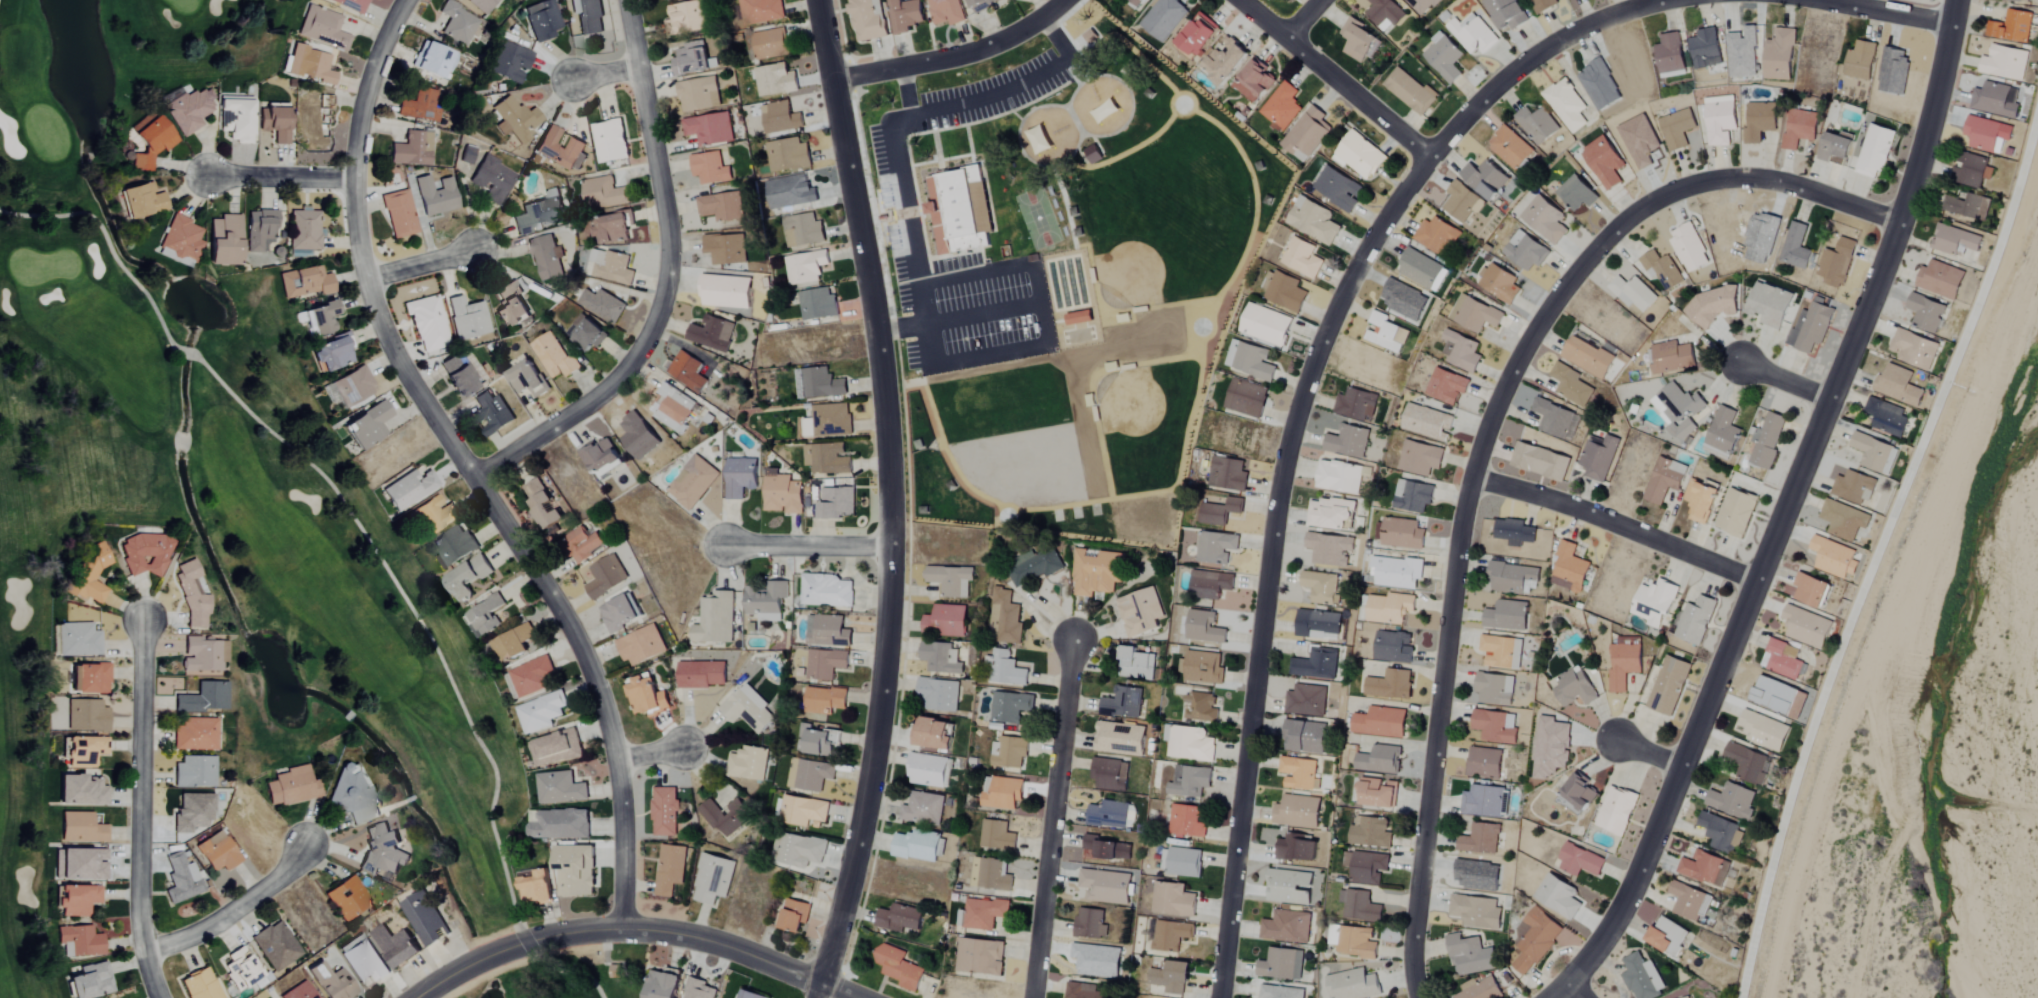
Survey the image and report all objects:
building: (2018, 0)
building: (1138, 2)
building: (981, 4)
building: (1421, 5)
building: (1544, 5)
building: (481, 6)
road: (1888, 10)
building: (761, 11)
building: (946, 11)
building: (1384, 14)
building: (1506, 14)
building: (906, 15)
building: (587, 16)
building: (686, 17)
building: (1163, 18)
road: (1260, 19)
road: (1303, 19)
building: (542, 20)
building: (867, 20)
building: (457, 22)
building: (322, 28)
building: (1472, 34)
building: (1195, 35)
building: (1089, 36)
building: (1358, 40)
building: (769, 44)
building: (1705, 49)
building: (1743, 52)
building: (1669, 54)
road: (954, 56)
building: (1779, 56)
building: (1443, 57)
building: (431, 59)
building: (689, 59)
building: (1225, 60)
building: (1861, 60)
building: (510, 62)
building: (2004, 62)
building: (309, 65)
building: (1894, 71)
road: (603, 76)
building: (775, 80)
building: (1255, 82)
building: (1410, 91)
building: (698, 94)
road: (1357, 96)
building: (1995, 100)
building: (417, 103)
building: (1566, 105)
building: (1281, 106)
building: (189, 110)
building: (1106, 114)
building: (238, 118)
building: (780, 118)
building: (514, 119)
building: (1720, 119)
building: (317, 120)
building: (1759, 122)
building: (275, 123)
building: (1536, 125)
park: (1179, 127)
road: (891, 128)
building: (709, 129)
building: (1677, 129)
building: (1800, 129)
building: (1986, 133)
building: (1307, 134)
building: (1042, 139)
building: (608, 141)
building: (1640, 141)
building: (152, 143)
building: (1510, 148)
building: (412, 149)
building: (560, 150)
building: (1876, 151)
building: (1092, 153)
building: (467, 155)
building: (787, 155)
building: (1360, 155)
building: (1604, 162)
building: (709, 168)
building: (1973, 171)
building: (1485, 178)
road: (279, 179)
building: (492, 179)
building: (1336, 188)
building: (601, 194)
building: (1578, 194)
building: (436, 196)
building: (142, 201)
building: (1462, 202)
building: (721, 206)
building: (1967, 207)
building: (960, 209)
building: (399, 214)
building: (539, 214)
road: (892, 215)
park: (1037, 218)
building: (1545, 219)
building: (1313, 220)
building: (611, 226)
building: (260, 230)
building: (803, 230)
building: (305, 231)
building: (1435, 234)
building: (181, 238)
building: (224, 240)
building: (1955, 241)
building: (1689, 247)
building: (1795, 247)
building: (725, 248)
building: (1526, 251)
building: (546, 258)
building: (1301, 258)
building: (1837, 264)
road: (419, 267)
building: (805, 267)
building: (611, 269)
building: (1421, 270)
building: (1662, 270)
park: (1058, 275)
building: (1941, 280)
road: (666, 281)
building: (305, 282)
building: (1501, 283)
road: (1039, 284)
building: (725, 291)
building: (1285, 292)
building: (1632, 293)
building: (600, 304)
building: (818, 304)
building: (510, 305)
building: (1770, 305)
building: (1926, 313)
building: (1475, 314)
building: (1078, 317)
building: (323, 318)
building: (467, 318)
building: (427, 323)
building: (1264, 325)
building: (1810, 327)
building: (584, 333)
building: (1386, 333)
building: (711, 334)
building: (1914, 349)
building: (1462, 351)
building: (331, 354)
road: (992, 354)
building: (553, 357)
building: (1588, 357)
building: (1671, 357)
building: (1252, 361)
building: (687, 372)
building: (457, 376)
building: (525, 377)
road: (1788, 383)
building: (822, 384)
building: (1570, 385)
building: (1447, 386)
building: (1898, 386)
building: (353, 387)
building: (1246, 398)
building: (1355, 405)
building: (672, 408)
building: (1677, 409)
building: (492, 411)
building: (1887, 417)
road: (1293, 420)
building: (1556, 420)
building: (828, 421)
building: (1428, 422)
building: (368, 426)
building: (1722, 434)
building: (1530, 436)
building: (1767, 440)
building: (1347, 442)
road: (1482, 444)
building: (1875, 453)
building: (600, 456)
building: (1420, 458)
building: (1598, 458)
building: (827, 459)
building: (1540, 461)
road: (466, 466)
building: (1227, 474)
building: (739, 477)
building: (1339, 477)
building: (1665, 480)
park: (956, 481)
building: (692, 482)
park: (216, 485)
building: (1854, 488)
building: (407, 489)
building: (782, 495)
building: (1413, 496)
road: (890, 500)
building: (1701, 501)
park: (1134, 502)
building: (836, 503)
road: (1790, 503)
building: (542, 505)
building: (1218, 510)
building: (1329, 513)
building: (1737, 513)
building: (434, 514)
building: (1843, 520)
road: (1615, 524)
building: (1514, 532)
building: (1403, 534)
building: (455, 545)
road: (810, 545)
building: (583, 547)
building: (1216, 547)
building: (1328, 549)
building: (144, 552)
building: (1834, 558)
road: (1882, 558)
building: (1042, 564)
building: (1570, 568)
building: (1097, 572)
building: (1397, 572)
building: (90, 575)
building: (605, 576)
building: (466, 577)
building: (1512, 578)
building: (950, 580)
building: (1210, 583)
building: (1319, 587)
building: (1810, 590)
building: (826, 591)
building: (191, 594)
building: (1654, 602)
building: (765, 603)
building: (1390, 608)
building: (1140, 612)
building: (619, 613)
building: (1506, 616)
building: (485, 617)
building: (1004, 619)
building: (945, 620)
building: (714, 621)
building: (1695, 621)
building: (1317, 625)
building: (1807, 627)
building: (1204, 628)
building: (831, 631)
building: (78, 640)
building: (514, 643)
building: (640, 646)
building: (1394, 647)
building: (1501, 652)
building: (204, 654)
building: (941, 659)
building: (1784, 660)
building: (825, 663)
building: (1315, 664)
building: (1137, 665)
building: (1624, 665)
building: (1201, 667)
building: (1006, 670)
building: (700, 675)
building: (531, 676)
building: (91, 679)
building: (1390, 685)
building: (1668, 686)
building: (1494, 689)
building: (1575, 689)
building: (939, 695)
building: (645, 697)
building: (203, 698)
building: (823, 701)
building: (1306, 701)
building: (1122, 703)
building: (1009, 707)
building: (1200, 707)
building: (747, 709)
building: (540, 712)
building: (87, 716)
building: (1381, 723)
building: (1495, 727)
building: (1764, 731)
building: (196, 734)
building: (933, 735)
building: (1304, 737)
building: (1120, 739)
building: (820, 743)
building: (1188, 743)
building: (1551, 747)
building: (555, 749)
building: (84, 751)
building: (1008, 752)
road: (654, 753)
road: (1650, 755)
building: (1379, 761)
building: (1484, 762)
building: (1745, 762)
building: (748, 763)
building: (927, 771)
building: (194, 772)
building: (1299, 774)
building: (809, 775)
building: (1110, 775)
building: (1188, 781)
building: (291, 788)
building: (559, 788)
building: (81, 791)
building: (1378, 793)
building: (1580, 793)
building: (1002, 794)
building: (352, 796)
building: (1733, 801)
building: (1482, 802)
building: (923, 809)
road: (137, 810)
building: (803, 811)
building: (1616, 811)
building: (192, 812)
building: (664, 812)
building: (1297, 812)
building: (1111, 816)
building: (725, 817)
road: (1053, 818)
building: (559, 825)
building: (81, 828)
building: (1370, 833)
building: (996, 836)
building: (1480, 839)
building: (916, 846)
building: (1296, 849)
building: (1105, 850)
building: (382, 851)
building: (218, 852)
building: (802, 852)
building: (1580, 861)
building: (1179, 862)
building: (79, 865)
building: (578, 867)
building: (1366, 867)
building: (1705, 868)
building: (669, 870)
building: (990, 875)
building: (182, 879)
building: (712, 879)
building: (566, 884)
building: (1105, 886)
building: (1288, 887)
building: (535, 888)
building: (1558, 897)
building: (347, 899)
building: (76, 900)
building: (1173, 900)
building: (1690, 902)
building: (1360, 906)
road: (230, 910)
building: (1476, 912)
building: (983, 914)
building: (793, 916)
building: (424, 919)
building: (899, 919)
building: (1090, 924)
building: (1286, 927)
road: (635, 931)
building: (1170, 935)
building: (1668, 937)
building: (1534, 940)
building: (81, 941)
building: (1357, 942)
building: (276, 946)
building: (395, 947)
building: (1471, 956)
building: (979, 957)
building: (1097, 961)
building: (363, 962)
building: (1280, 965)
building: (898, 968)
building: (240, 969)
building: (615, 972)
building: (1642, 977)
building: (1171, 978)
building: (91, 982)
building: (331, 983)
building: (200, 985)
building: (662, 985)
building: (1353, 985)
building: (698, 990)
building: (1479, 990)
building: (1084, 991)
building: (299, 992)
building: (1280, 992)
road: (1563, 992)
road: (1575, 992)
building: (749, 995)
building: (1687, 997)

